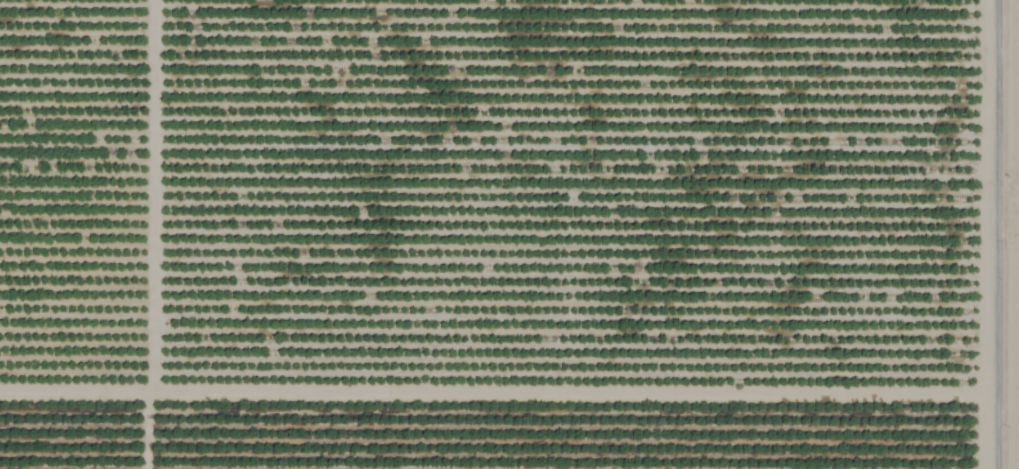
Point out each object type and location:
crop: (509, 234)
road: (1002, 234)

